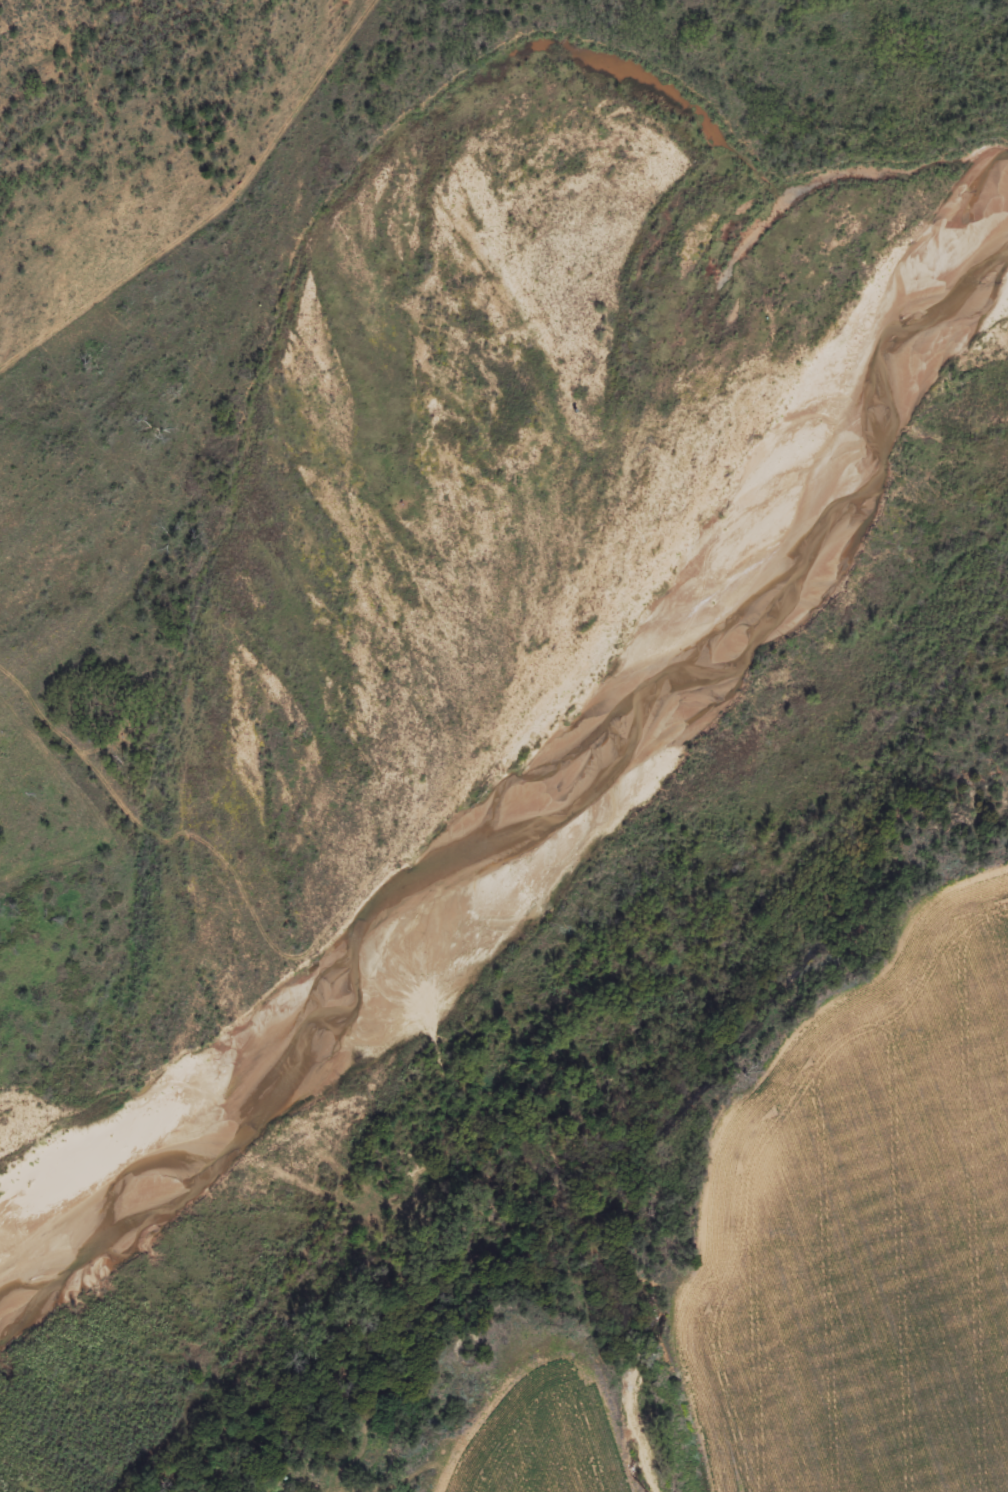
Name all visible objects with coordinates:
river: (569, 683)
road: (148, 862)

